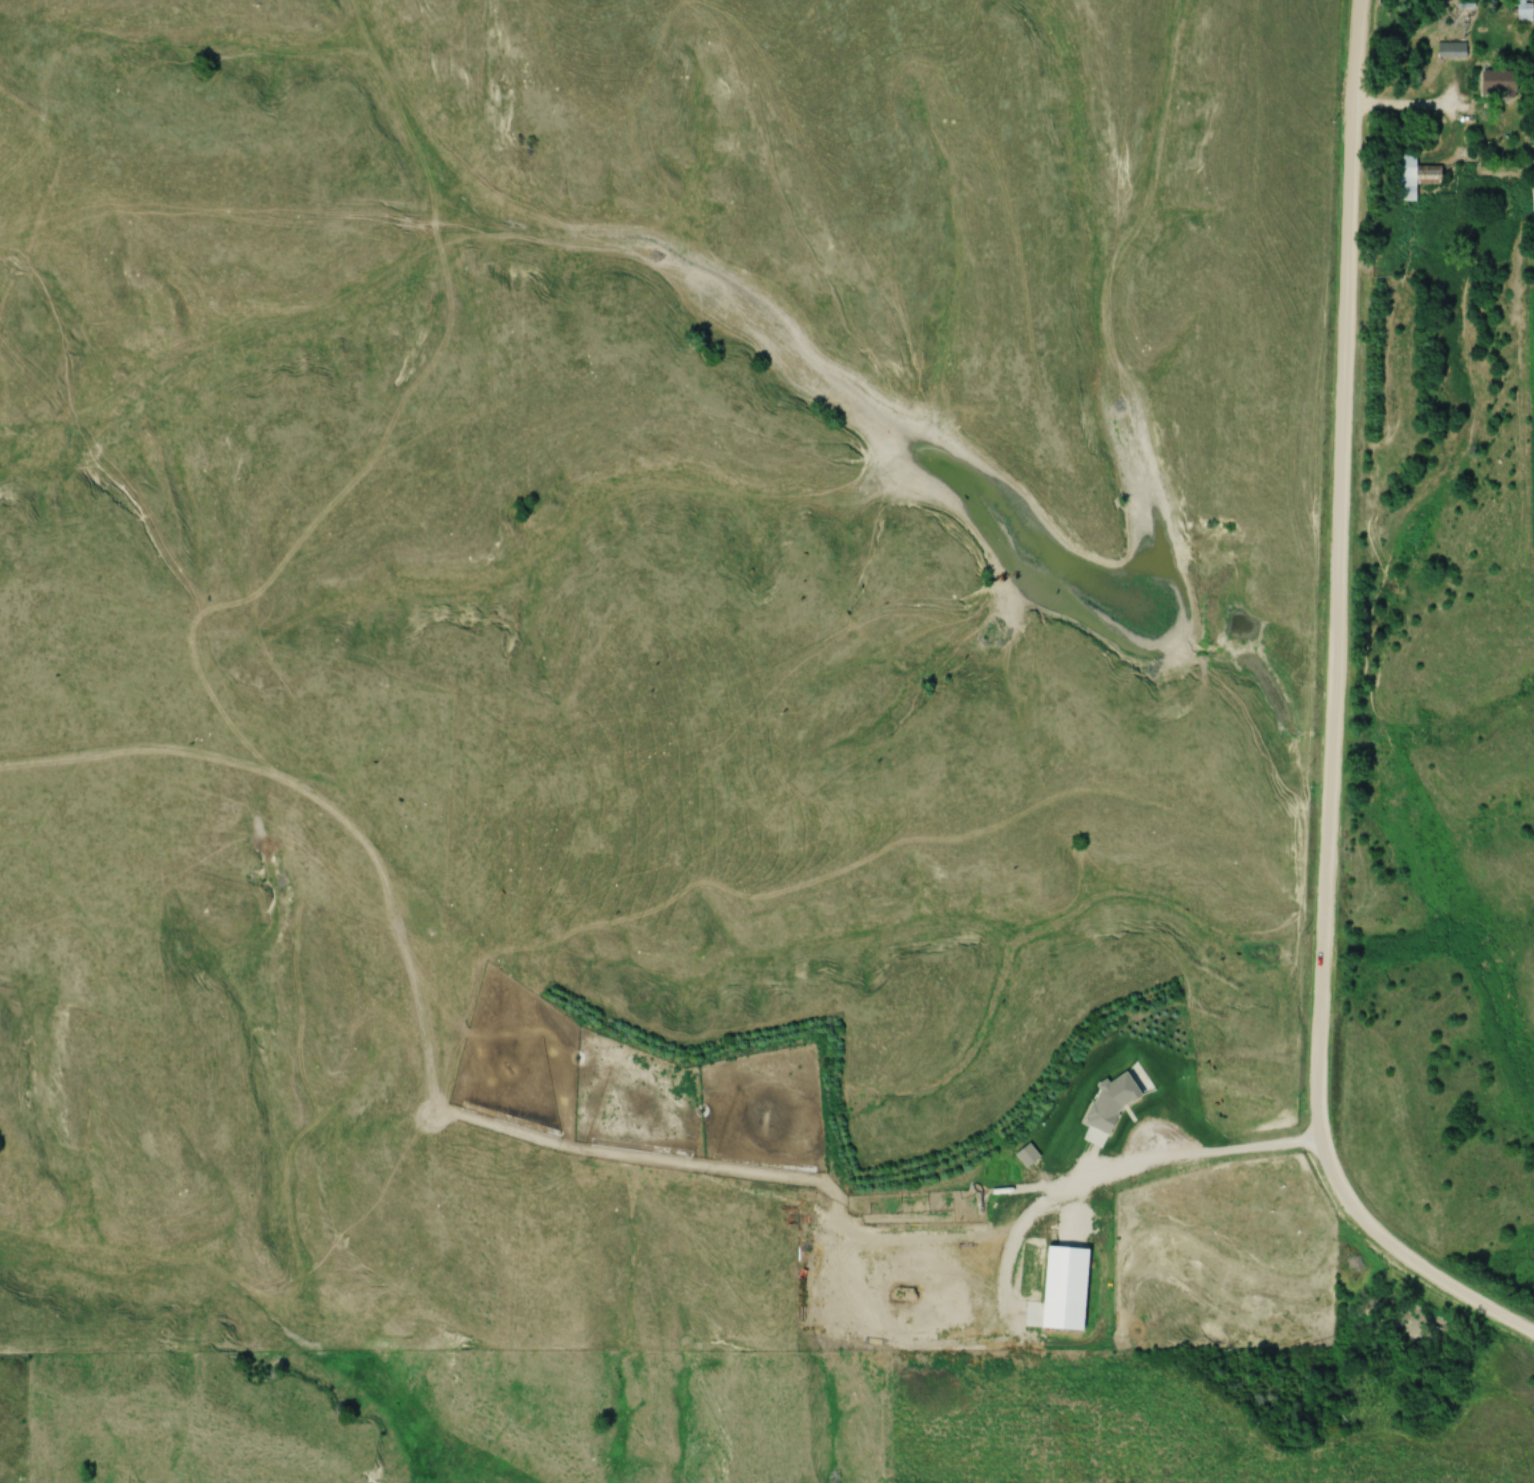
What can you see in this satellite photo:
building: (1523, 11)
building: (1497, 83)
road: (1425, 100)
building: (1404, 176)
road: (1330, 717)
building: (1115, 1097)

